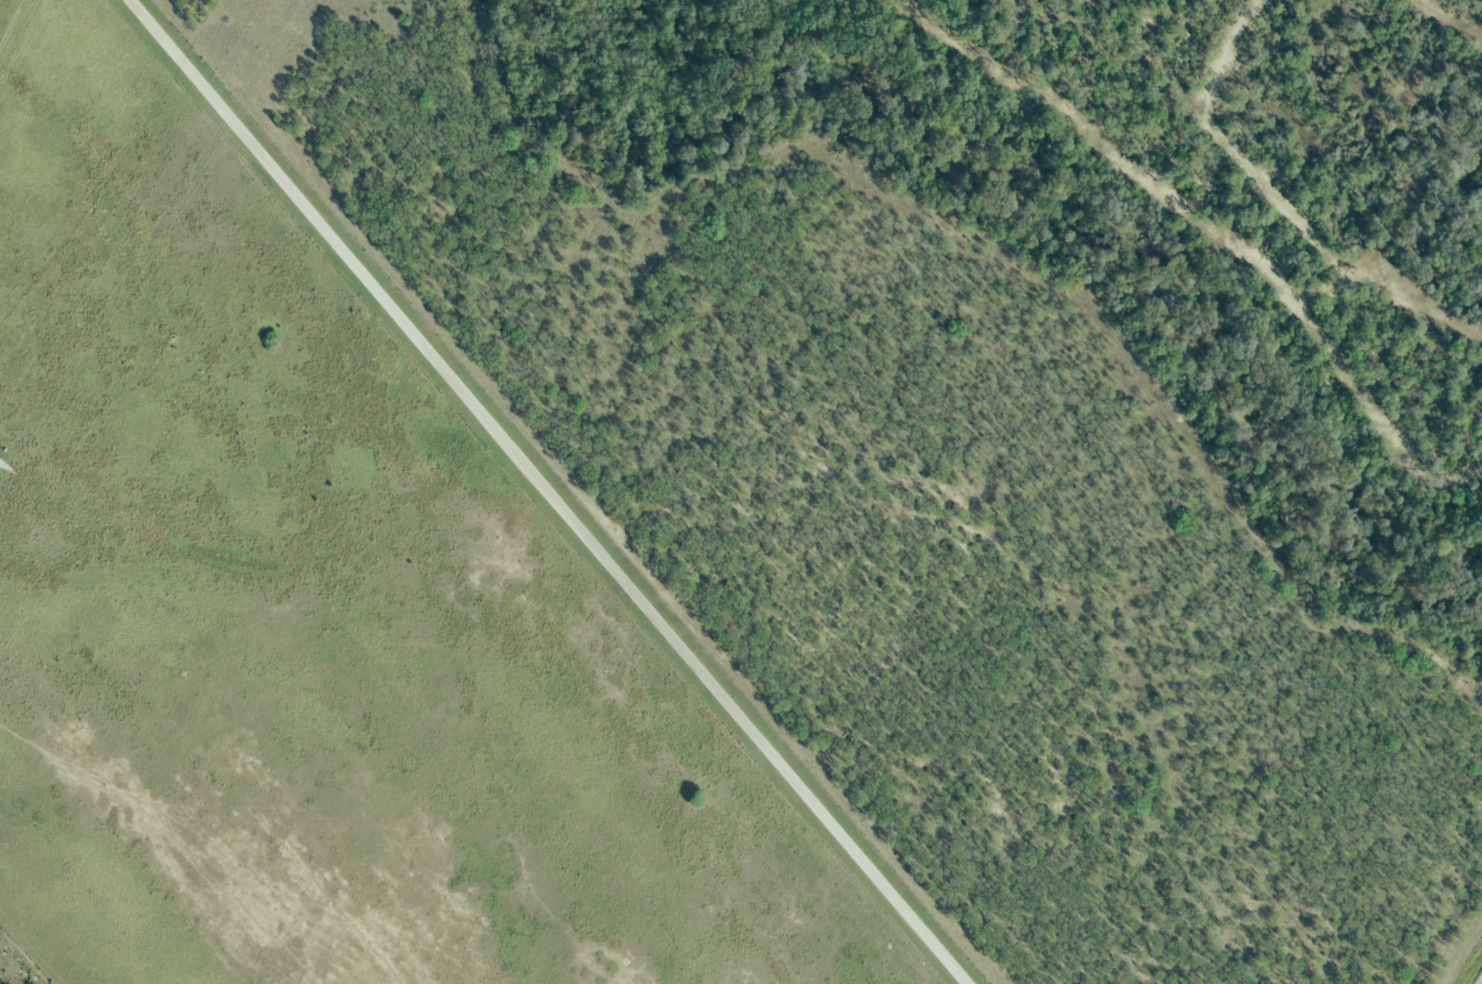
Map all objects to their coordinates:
road: (546, 492)

